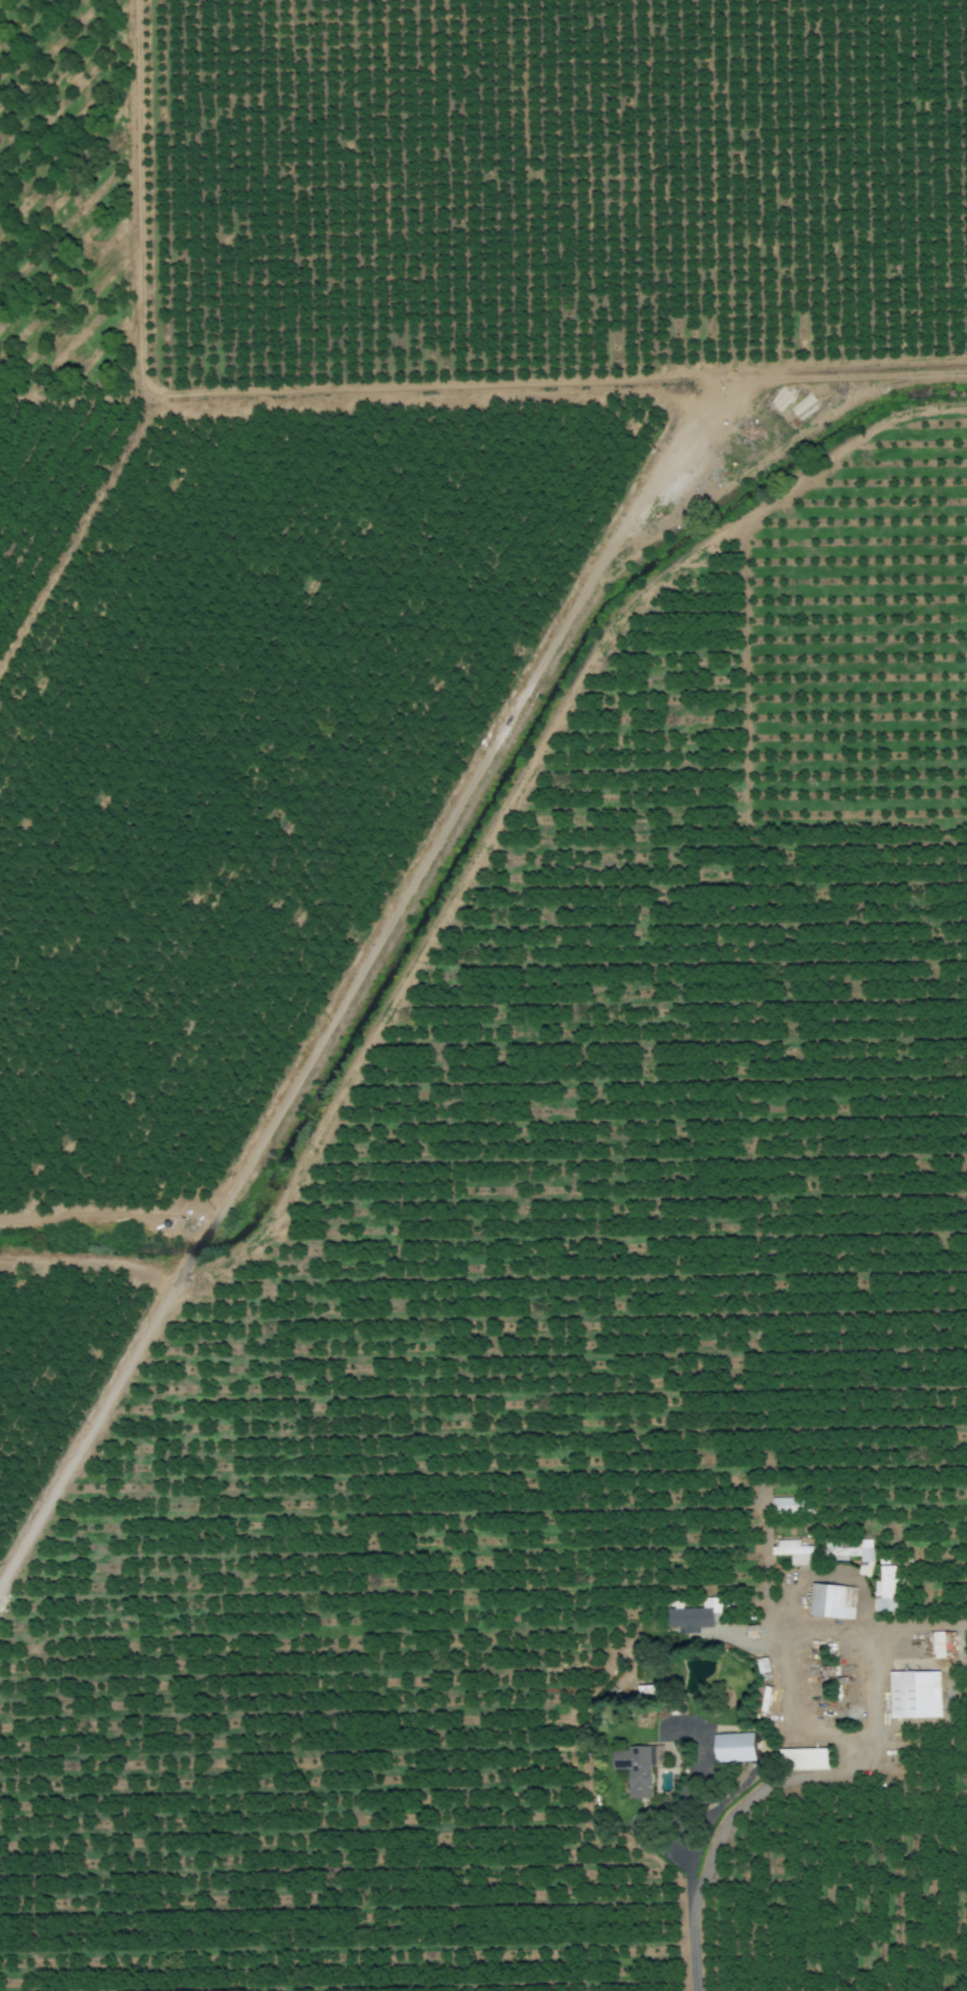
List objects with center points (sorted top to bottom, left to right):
building: (790, 1550)
building: (864, 1557)
building: (885, 1589)
building: (831, 1600)
building: (685, 1617)
building: (917, 1691)
building: (729, 1746)
building: (802, 1758)
building: (637, 1768)
road: (740, 1791)

